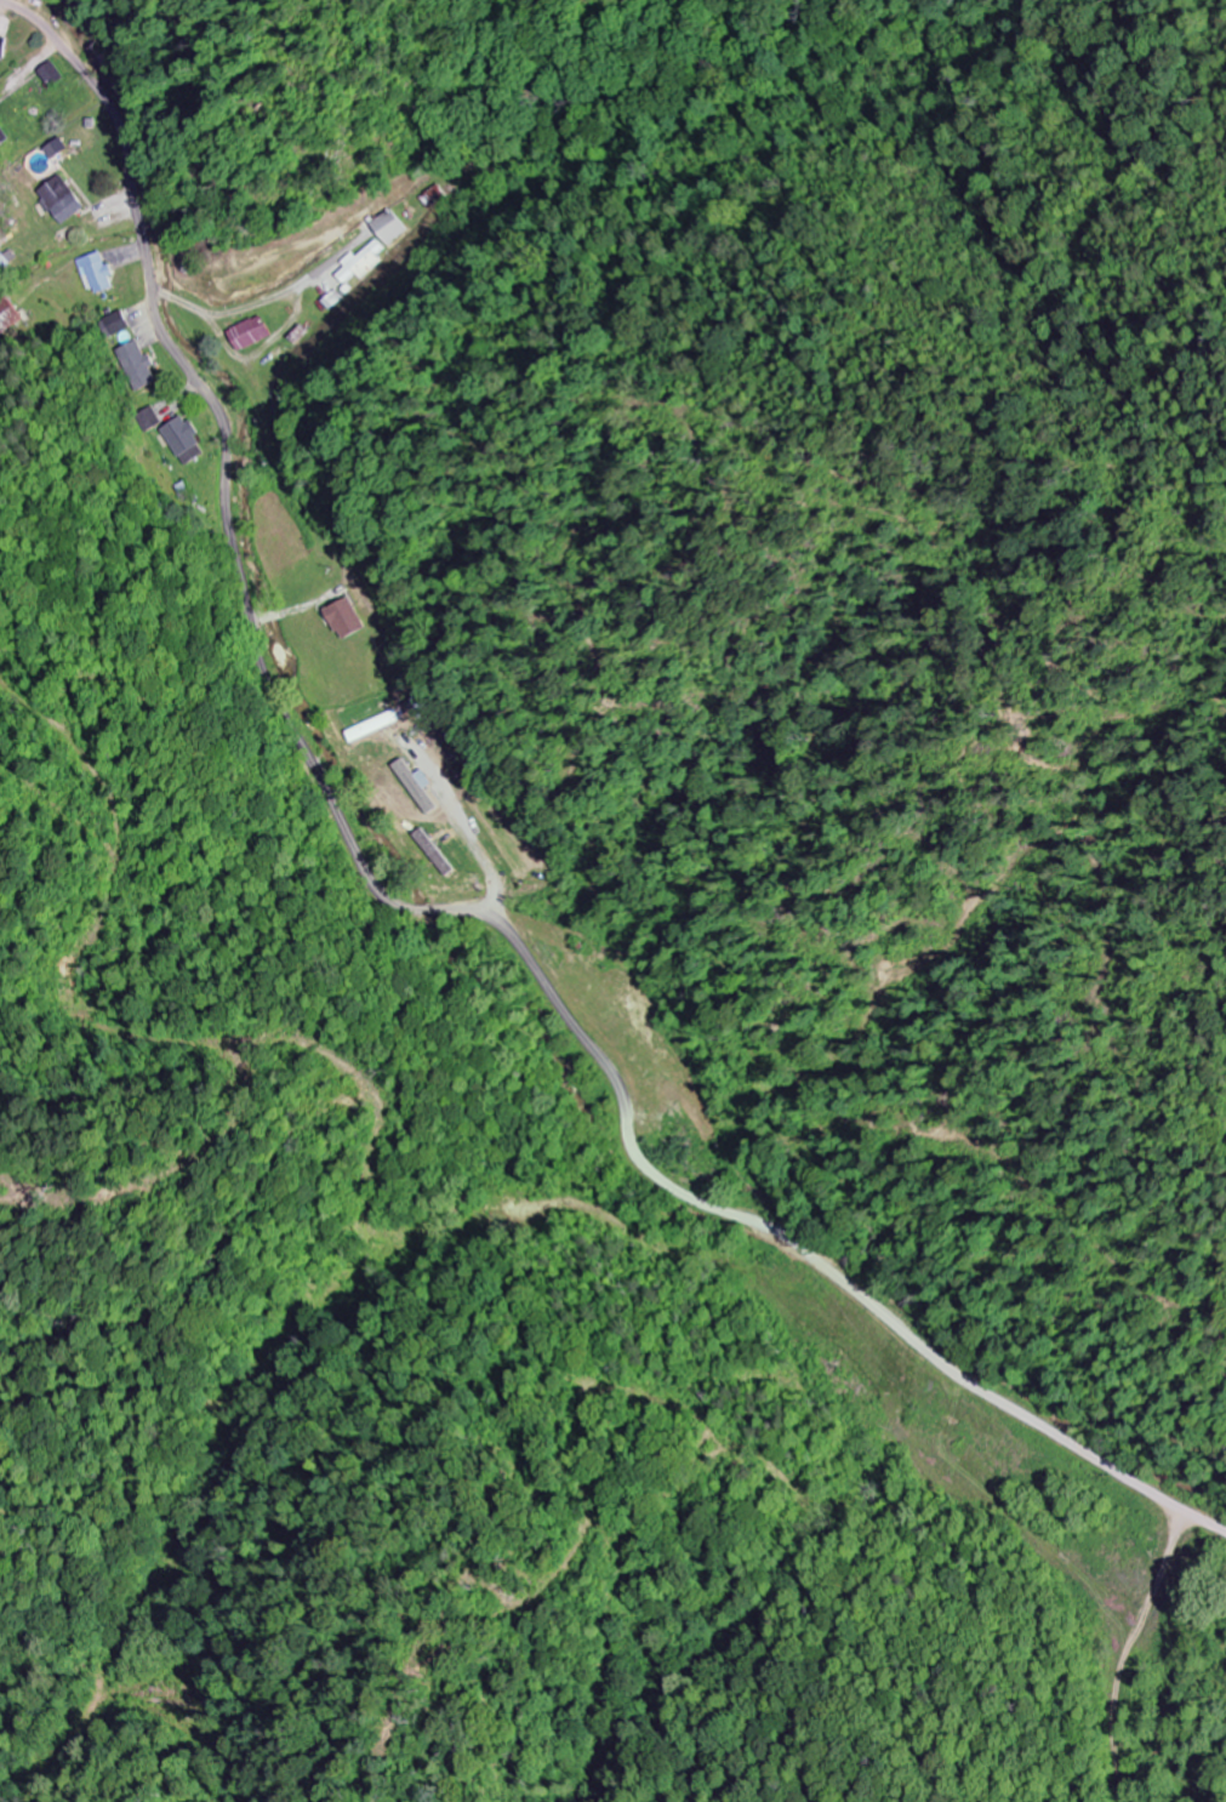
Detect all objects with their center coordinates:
building: (5, 46)
building: (55, 74)
building: (0, 129)
building: (2, 138)
building: (61, 148)
building: (67, 199)
building: (388, 227)
building: (355, 268)
building: (99, 273)
building: (11, 317)
building: (255, 333)
building: (139, 365)
building: (148, 418)
building: (188, 440)
building: (349, 620)
building: (378, 726)
building: (421, 788)
road: (433, 907)

